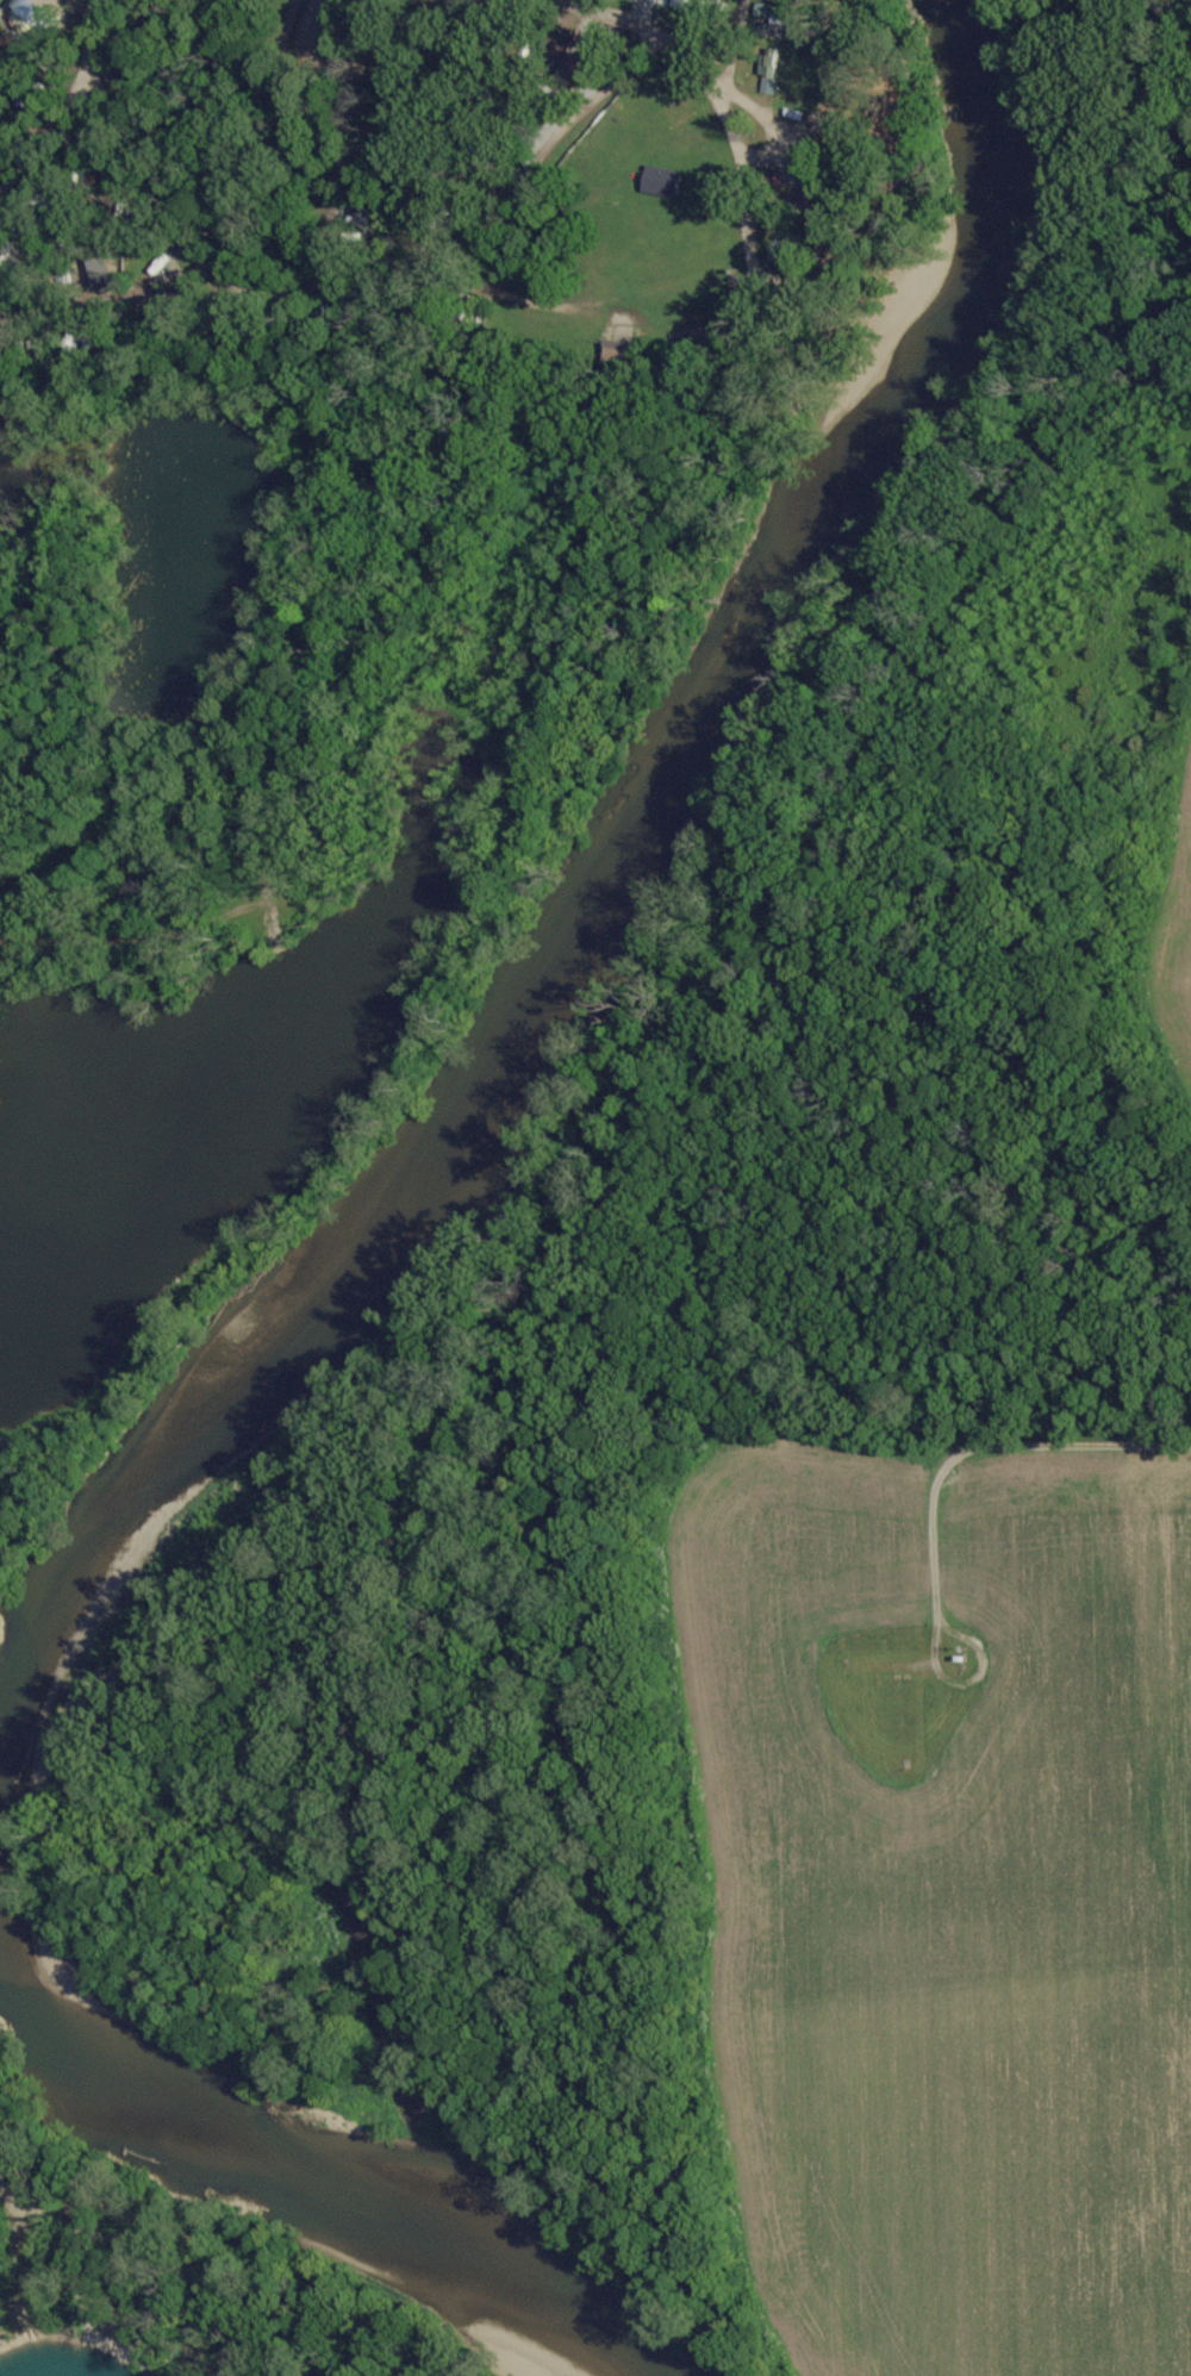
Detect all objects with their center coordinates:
road: (646, 12)
road: (721, 37)
building: (584, 68)
building: (767, 74)
road: (707, 88)
road: (52, 119)
building: (661, 182)
road: (319, 285)
road: (123, 299)
river: (593, 919)
river: (308, 2174)

